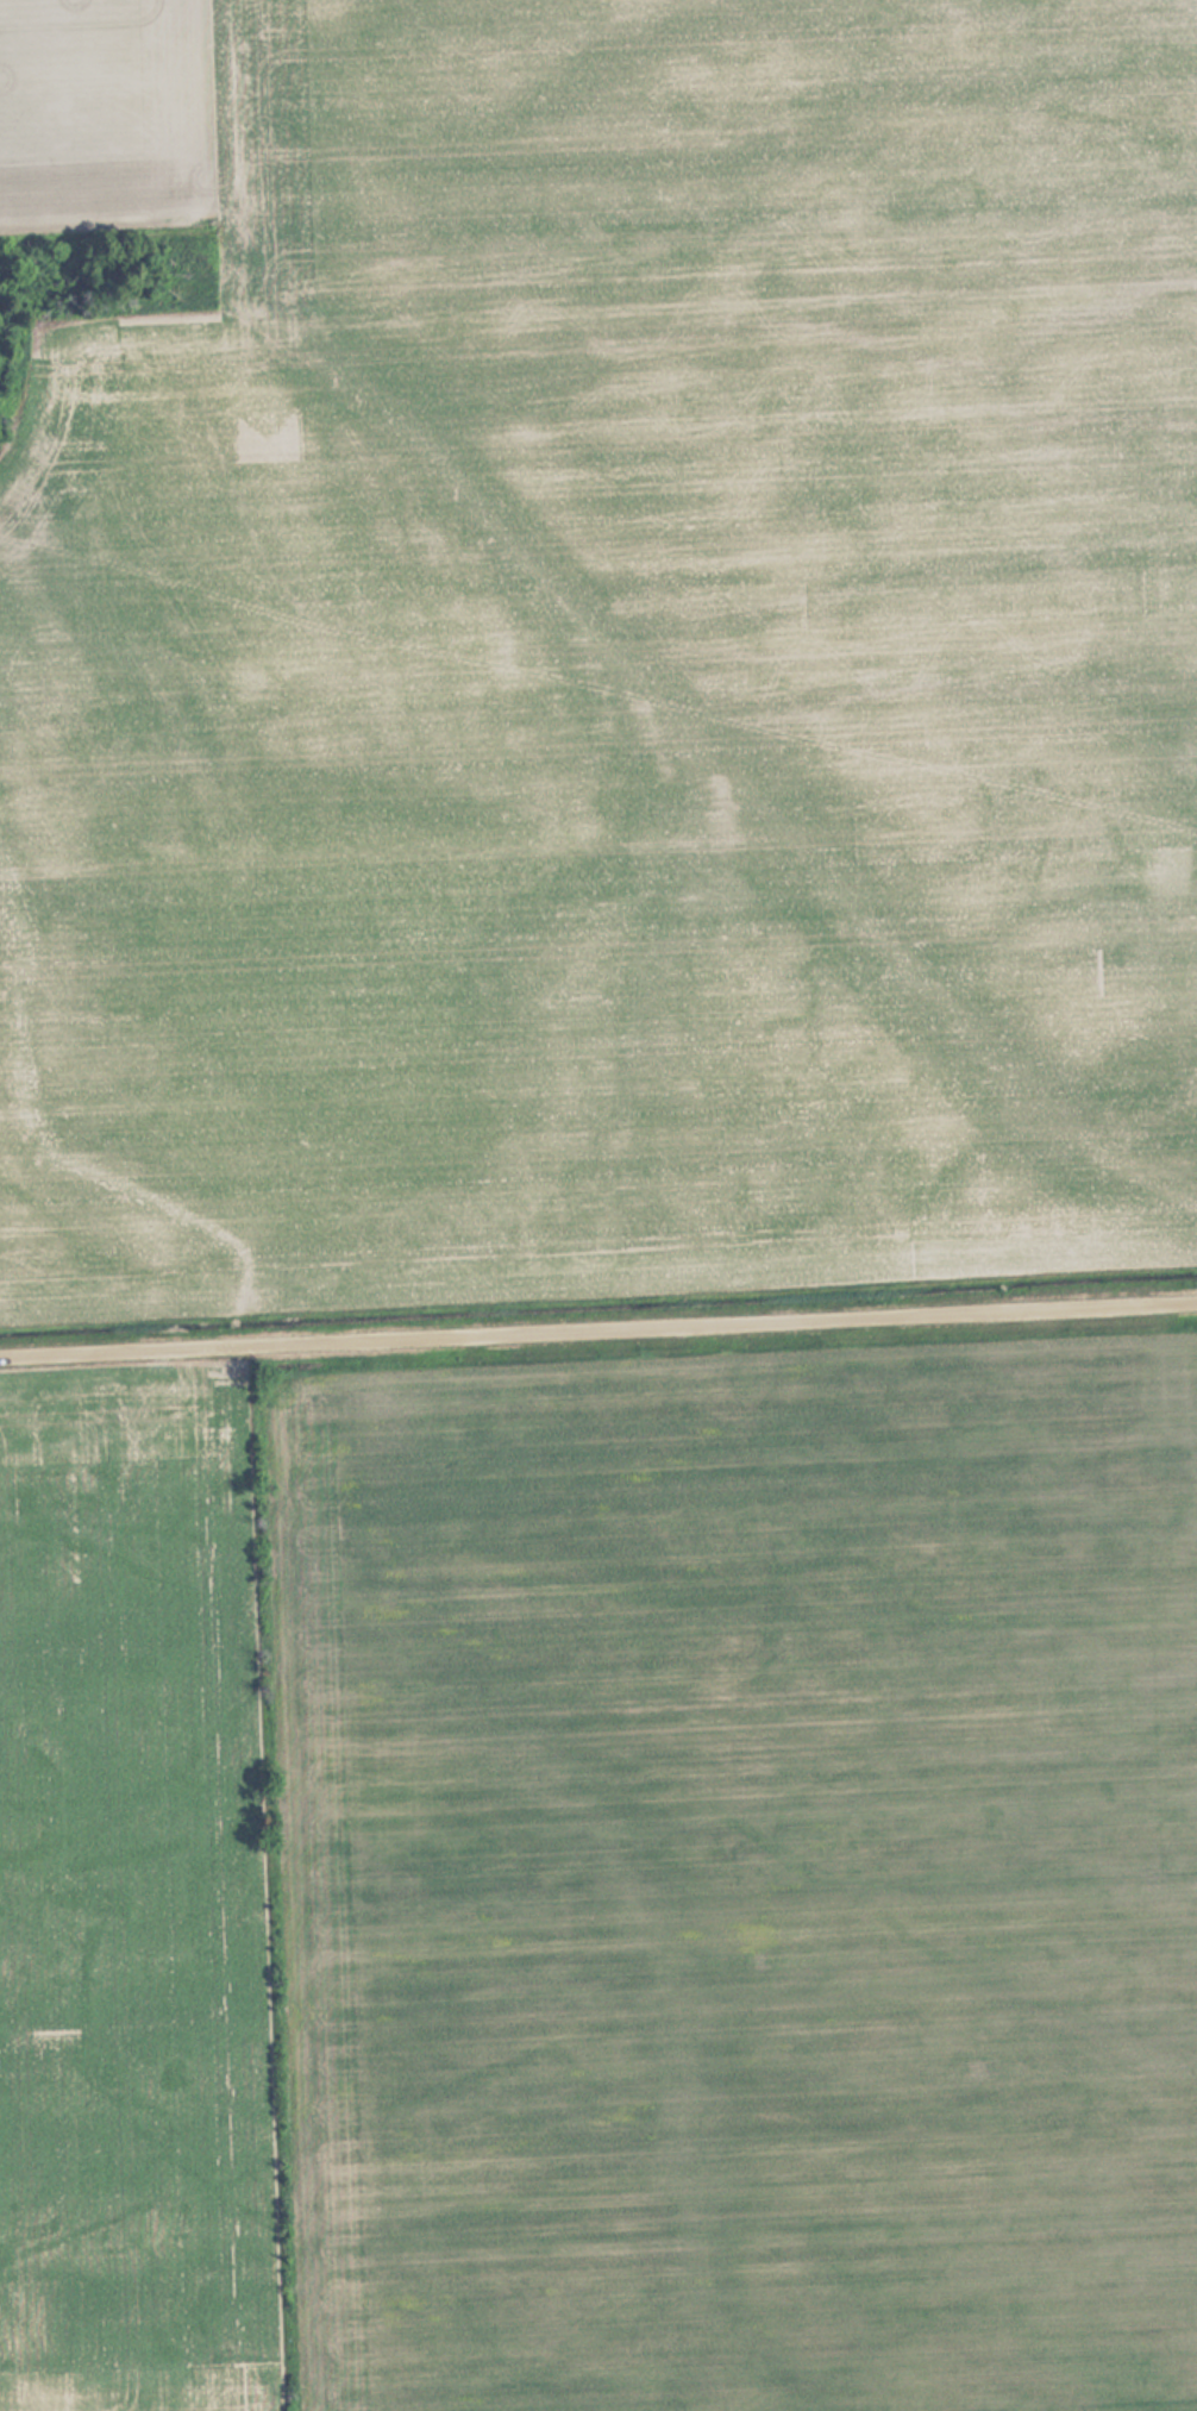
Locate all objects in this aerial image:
crop: (602, 651)
road: (597, 1325)

